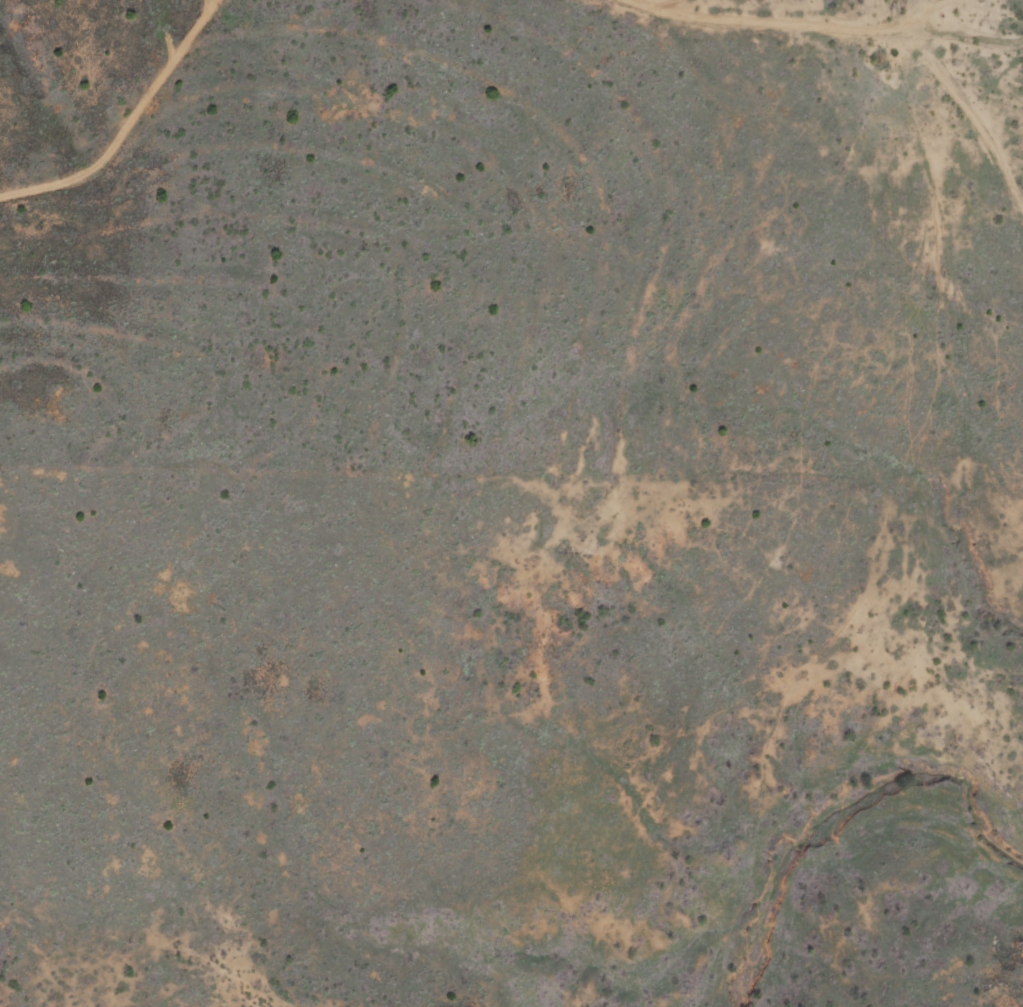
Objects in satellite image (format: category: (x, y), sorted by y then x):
road: (804, 34)
road: (131, 131)

